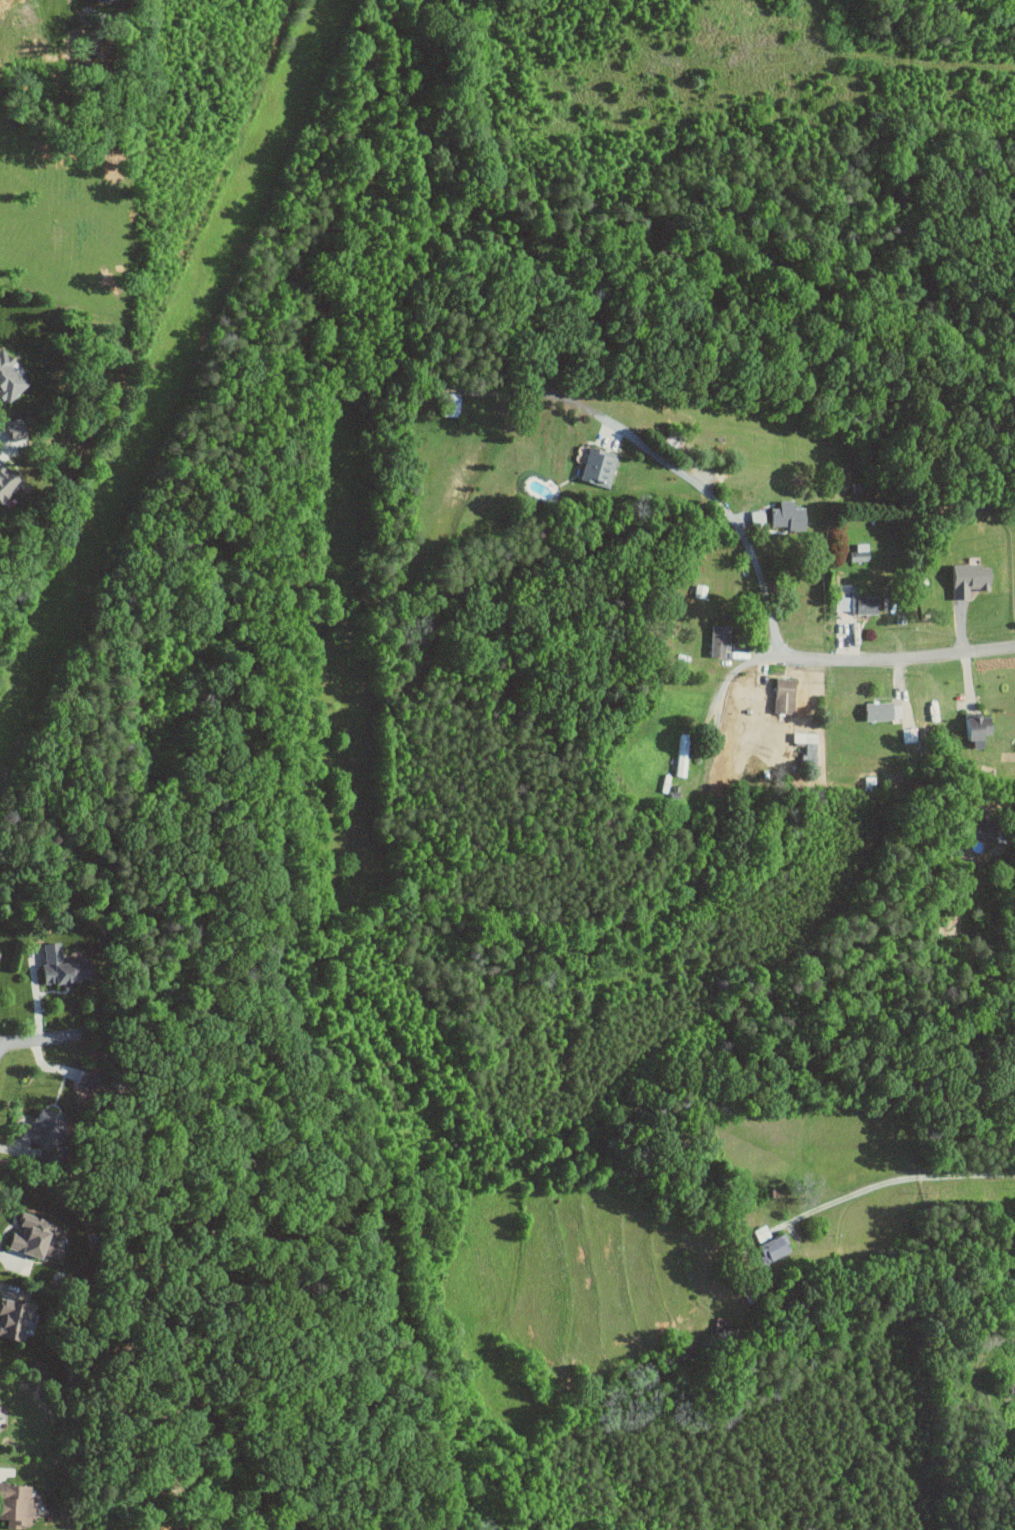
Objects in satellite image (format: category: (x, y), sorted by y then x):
building: (106, 0)
road: (277, 35)
road: (799, 49)
park: (548, 185)
building: (10, 377)
building: (452, 404)
building: (17, 428)
road: (666, 459)
building: (600, 465)
building: (7, 476)
building: (789, 515)
building: (861, 552)
building: (971, 578)
building: (859, 603)
building: (721, 639)
road: (855, 659)
building: (786, 695)
building: (885, 710)
building: (976, 726)
building: (809, 744)
building: (987, 829)
building: (0, 952)
building: (66, 965)
road: (37, 1040)
building: (43, 1134)
road: (905, 1177)
building: (33, 1235)
building: (775, 1247)
building: (55, 1252)
building: (14, 1319)
road: (1, 1472)
building: (17, 1504)

